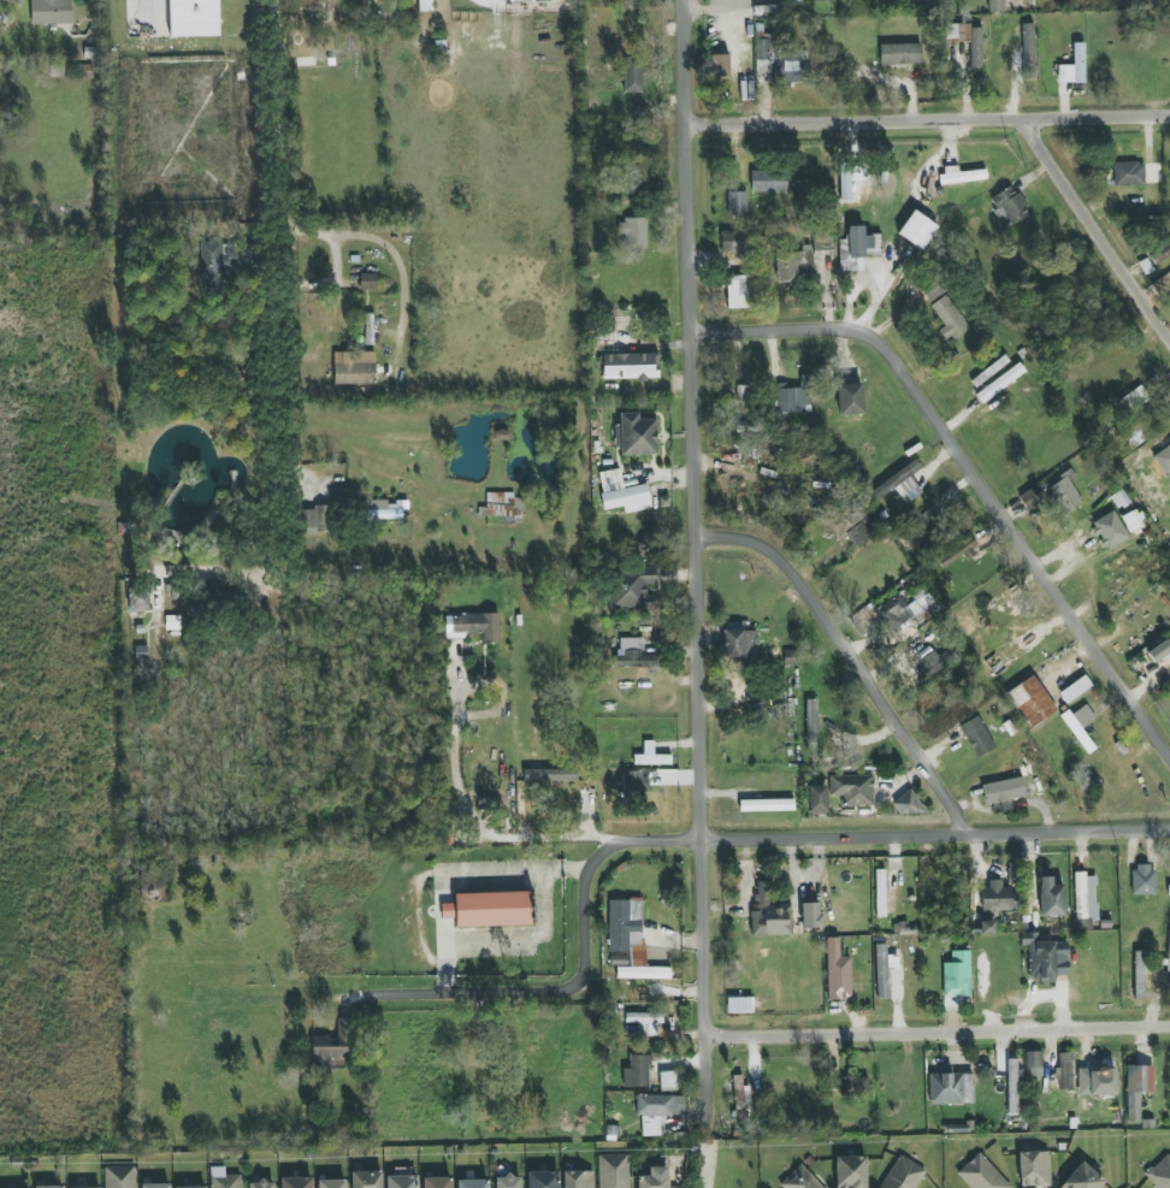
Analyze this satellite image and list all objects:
building: (425, 5)
building: (995, 5)
building: (51, 12)
building: (194, 18)
building: (1028, 51)
building: (900, 53)
building: (976, 54)
building: (781, 60)
building: (1074, 66)
building: (633, 75)
road: (870, 117)
building: (1129, 173)
building: (961, 175)
building: (768, 181)
building: (850, 183)
building: (737, 203)
building: (1010, 206)
road: (1097, 223)
building: (917, 230)
building: (633, 232)
road: (284, 242)
building: (728, 242)
building: (857, 249)
building: (1162, 253)
road: (336, 259)
building: (792, 264)
building: (215, 267)
road: (400, 267)
building: (368, 282)
building: (737, 291)
building: (949, 319)
building: (368, 329)
building: (630, 366)
building: (354, 367)
building: (989, 371)
building: (1000, 383)
building: (1135, 397)
building: (793, 398)
building: (850, 400)
building: (636, 436)
building: (1166, 451)
road: (974, 463)
building: (900, 484)
building: (1065, 491)
building: (622, 492)
building: (1030, 497)
building: (503, 506)
building: (388, 510)
building: (845, 519)
building: (314, 520)
building: (1109, 530)
building: (859, 533)
building: (958, 552)
road: (701, 560)
building: (631, 587)
building: (137, 598)
building: (905, 609)
building: (473, 626)
building: (739, 642)
road: (861, 651)
building: (1159, 651)
building: (634, 655)
building: (934, 664)
building: (1075, 688)
building: (1032, 702)
building: (811, 721)
building: (977, 737)
road: (454, 756)
building: (650, 756)
building: (550, 775)
building: (634, 784)
building: (852, 790)
building: (1003, 793)
building: (816, 799)
building: (489, 803)
building: (906, 804)
building: (767, 805)
road: (762, 834)
road: (562, 837)
building: (1144, 879)
building: (880, 882)
building: (1169, 889)
building: (1086, 896)
building: (999, 897)
building: (1051, 898)
building: (489, 909)
building: (769, 915)
building: (810, 915)
building: (1082, 924)
building: (987, 927)
building: (630, 941)
building: (1168, 953)
building: (1045, 958)
building: (884, 970)
building: (837, 971)
building: (957, 975)
building: (1139, 975)
road: (335, 997)
building: (739, 1005)
building: (645, 1022)
road: (940, 1030)
building: (331, 1047)
building: (1034, 1064)
building: (1065, 1070)
building: (637, 1071)
building: (668, 1081)
building: (1097, 1081)
building: (855, 1086)
building: (1012, 1087)
building: (951, 1088)
building: (1136, 1089)
building: (740, 1100)
building: (657, 1111)
building: (1034, 1169)
road: (705, 1170)
building: (614, 1171)
building: (851, 1172)
building: (1160, 1172)
building: (903, 1175)
building: (981, 1175)
building: (119, 1177)
building: (224, 1178)
building: (654, 1178)
building: (1082, 1178)
building: (366, 1180)
building: (543, 1180)
building: (578, 1180)
building: (799, 1180)
building: (296, 1182)
building: (437, 1182)
building: (508, 1182)
building: (332, 1183)
building: (473, 1183)
building: (261, 1184)
building: (155, 1186)
building: (49, 1187)
building: (95, 1187)
building: (193, 1187)

